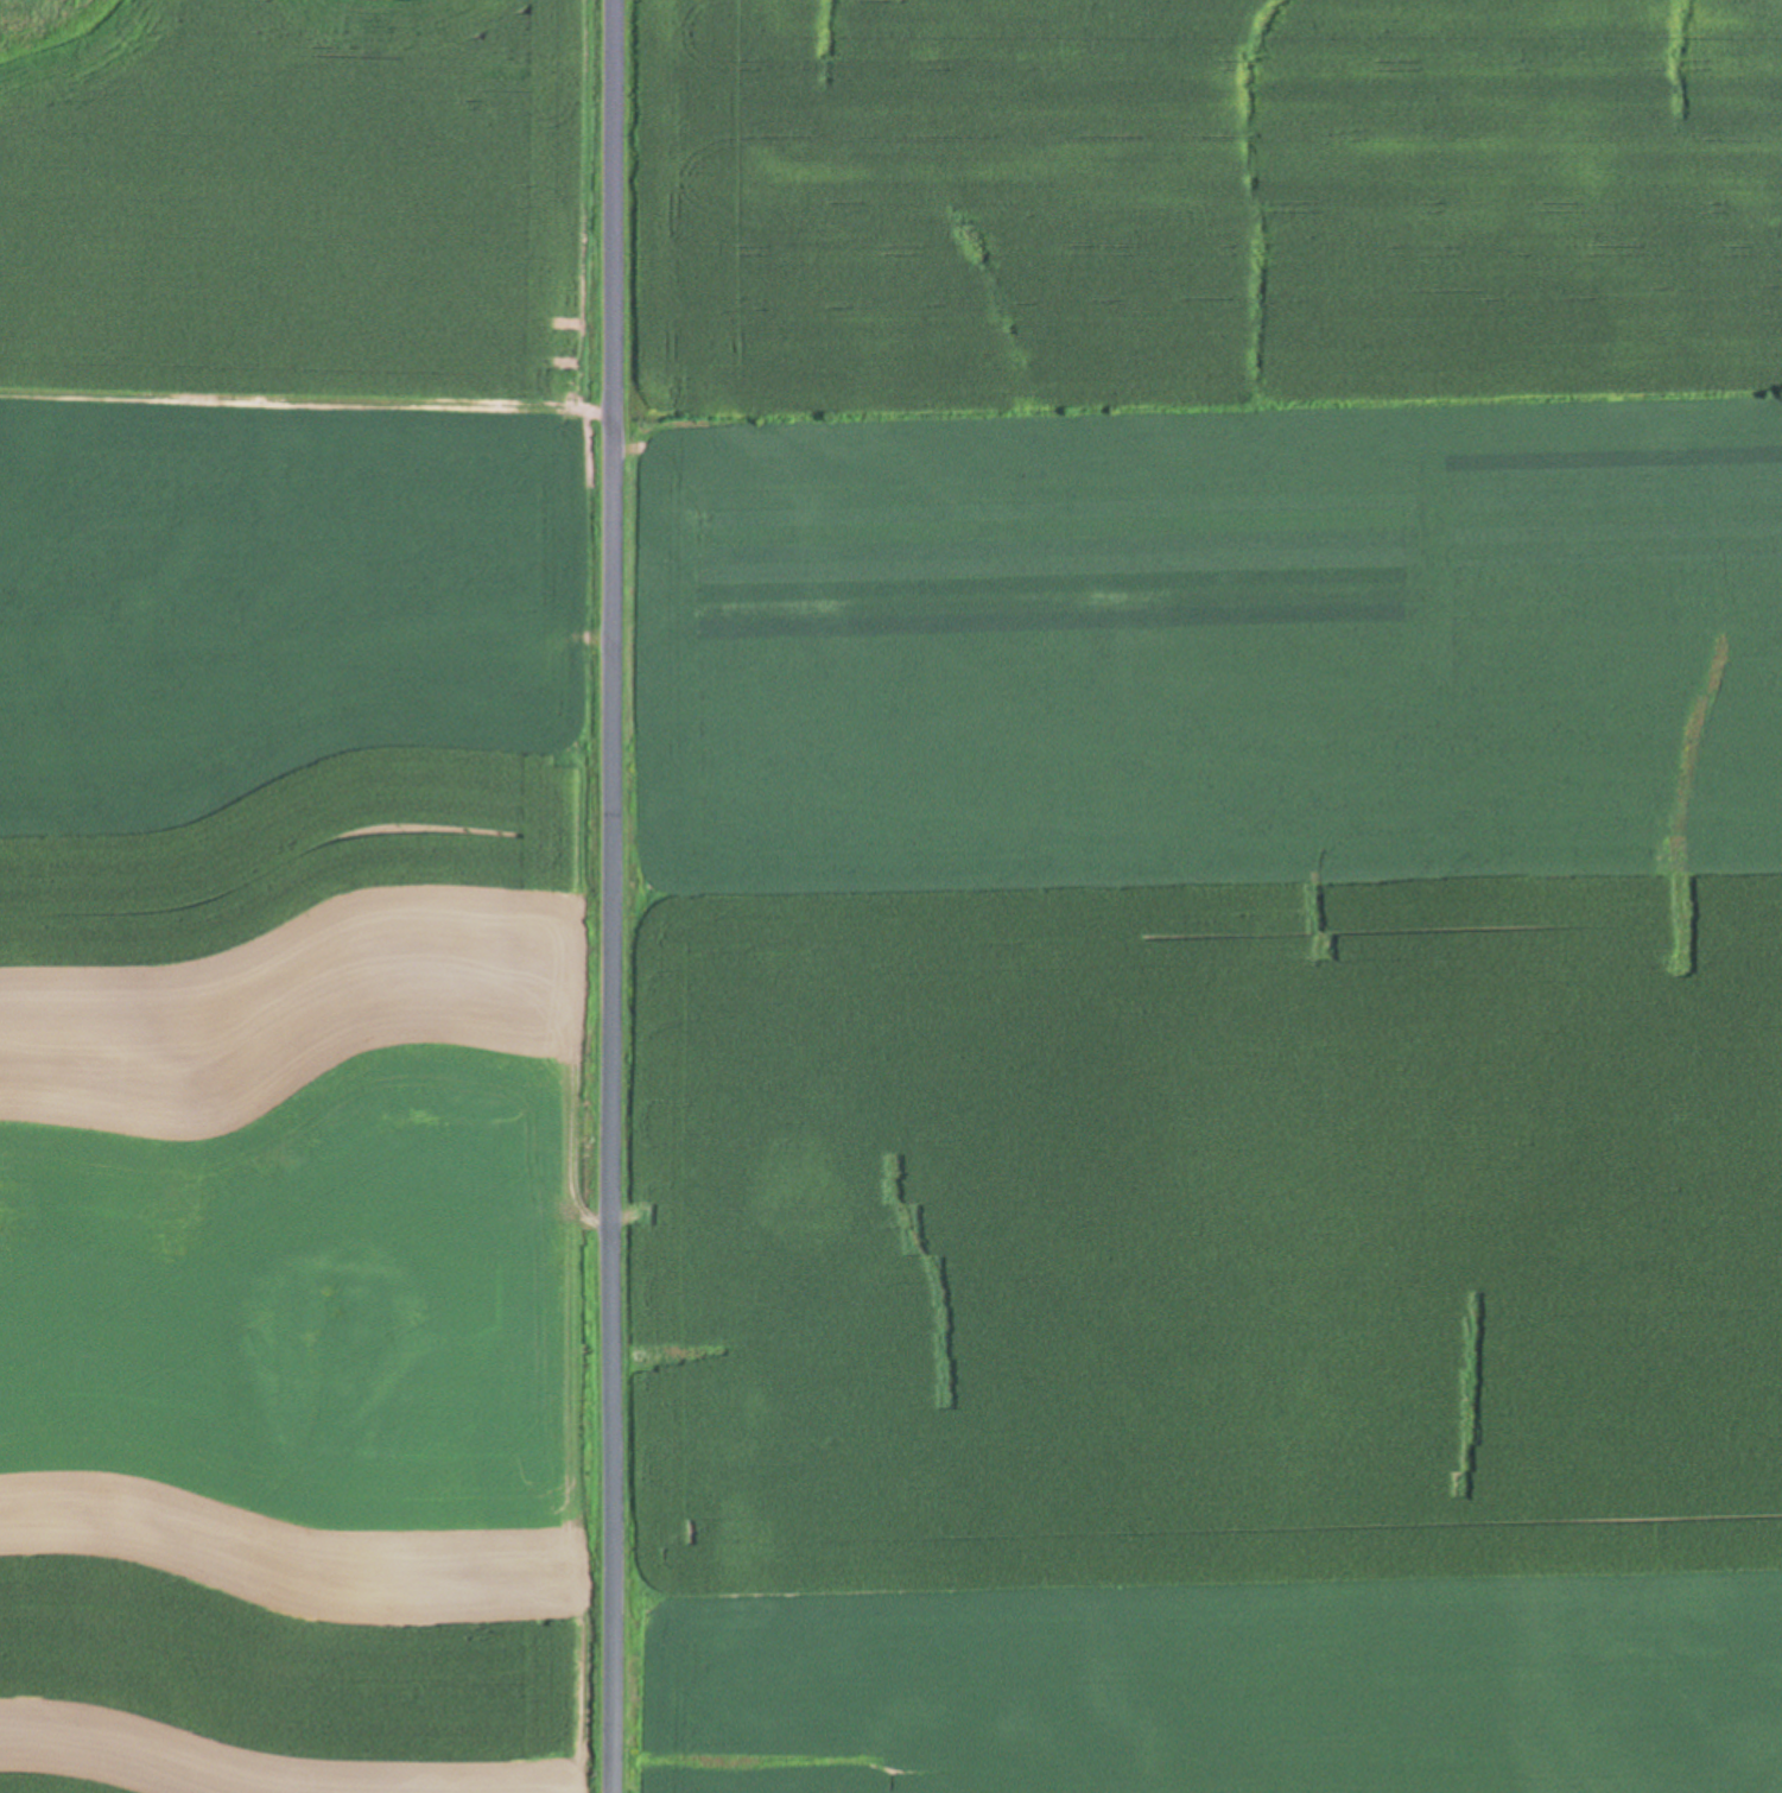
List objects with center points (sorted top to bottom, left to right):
crop: (1203, 895)
road: (615, 896)
crop: (299, 898)

